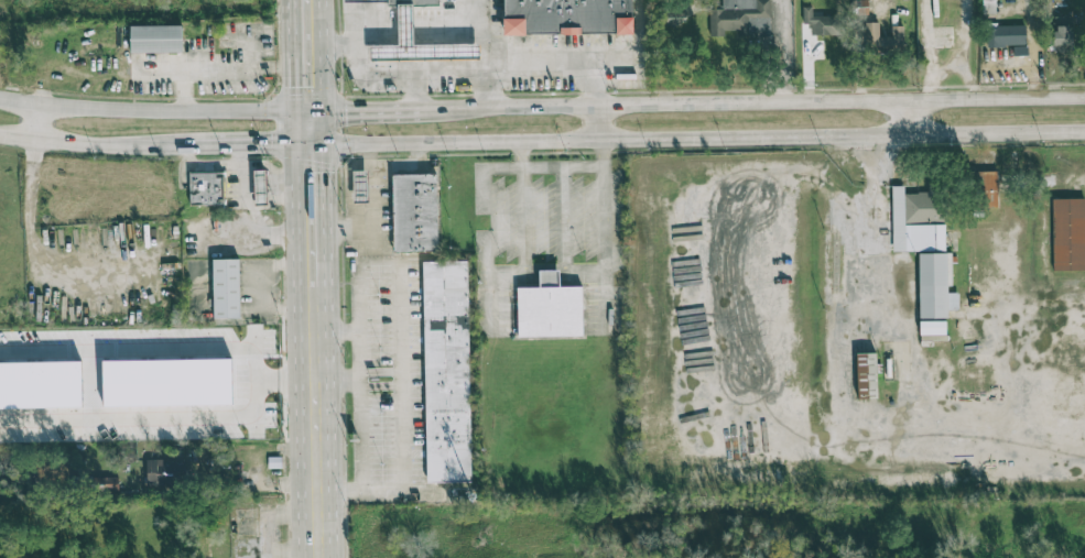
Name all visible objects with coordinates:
building: (567, 17)
building: (675, 18)
building: (744, 18)
road: (1031, 21)
building: (821, 23)
building: (405, 24)
road: (417, 32)
road: (962, 32)
building: (1063, 33)
building: (1006, 35)
road: (487, 36)
building: (883, 37)
building: (155, 39)
road: (930, 50)
building: (1020, 50)
road: (307, 57)
road: (964, 66)
road: (458, 74)
traffic signals: (308, 86)
road: (490, 91)
road: (412, 94)
road: (755, 103)
road: (367, 112)
traffic signals: (347, 113)
road: (154, 114)
road: (909, 117)
road: (36, 123)
road: (596, 124)
road: (311, 130)
road: (697, 139)
road: (95, 145)
road: (251, 146)
traffic signals: (274, 146)
road: (557, 164)
road: (501, 166)
traffic signals: (313, 174)
building: (260, 186)
building: (361, 187)
building: (206, 188)
building: (988, 189)
building: (415, 212)
road: (492, 214)
road: (604, 214)
road: (313, 216)
building: (1065, 237)
road: (36, 249)
building: (920, 260)
road: (547, 266)
building: (226, 287)
road: (491, 297)
building: (555, 308)
road: (373, 318)
road: (143, 351)
road: (412, 363)
building: (453, 372)
building: (866, 375)
building: (166, 383)
road: (284, 383)
building: (39, 384)
road: (141, 416)
road: (315, 423)
road: (801, 435)
building: (162, 473)
road: (231, 489)
road: (393, 491)
road: (264, 535)
road: (265, 556)

